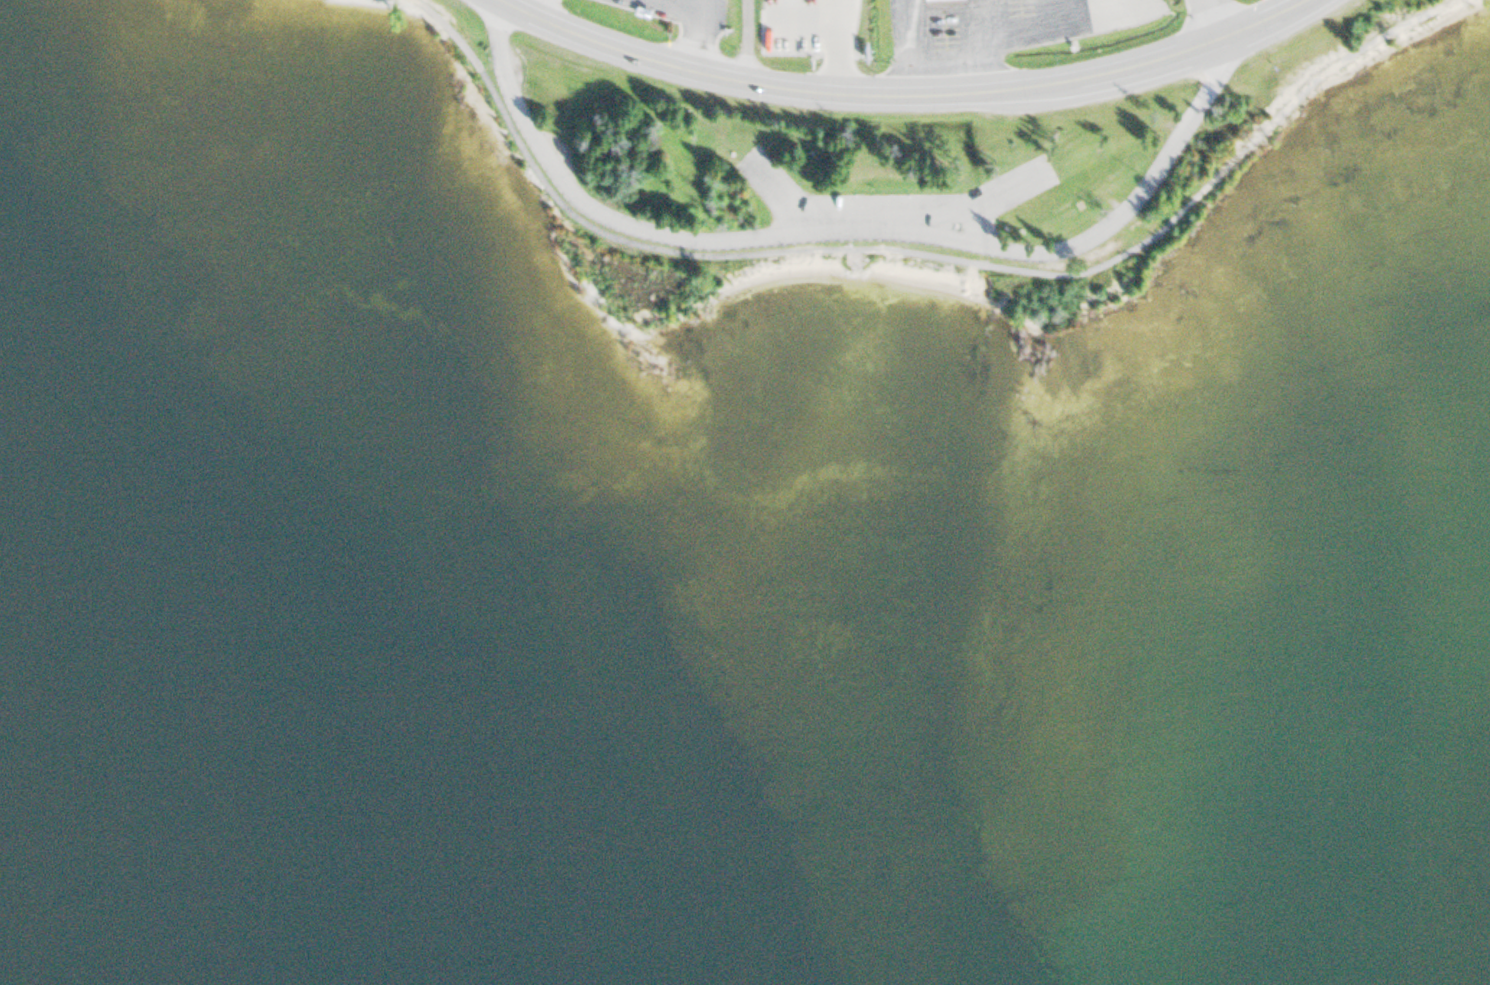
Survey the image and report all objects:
road: (682, 4)
road: (541, 10)
building: (794, 15)
road: (1208, 20)
road: (1256, 20)
road: (450, 27)
road: (702, 36)
parking lot: (510, 63)
road: (850, 96)
parking lot: (553, 151)
parking lot: (889, 202)
road: (841, 233)
park: (902, 259)
road: (966, 259)

